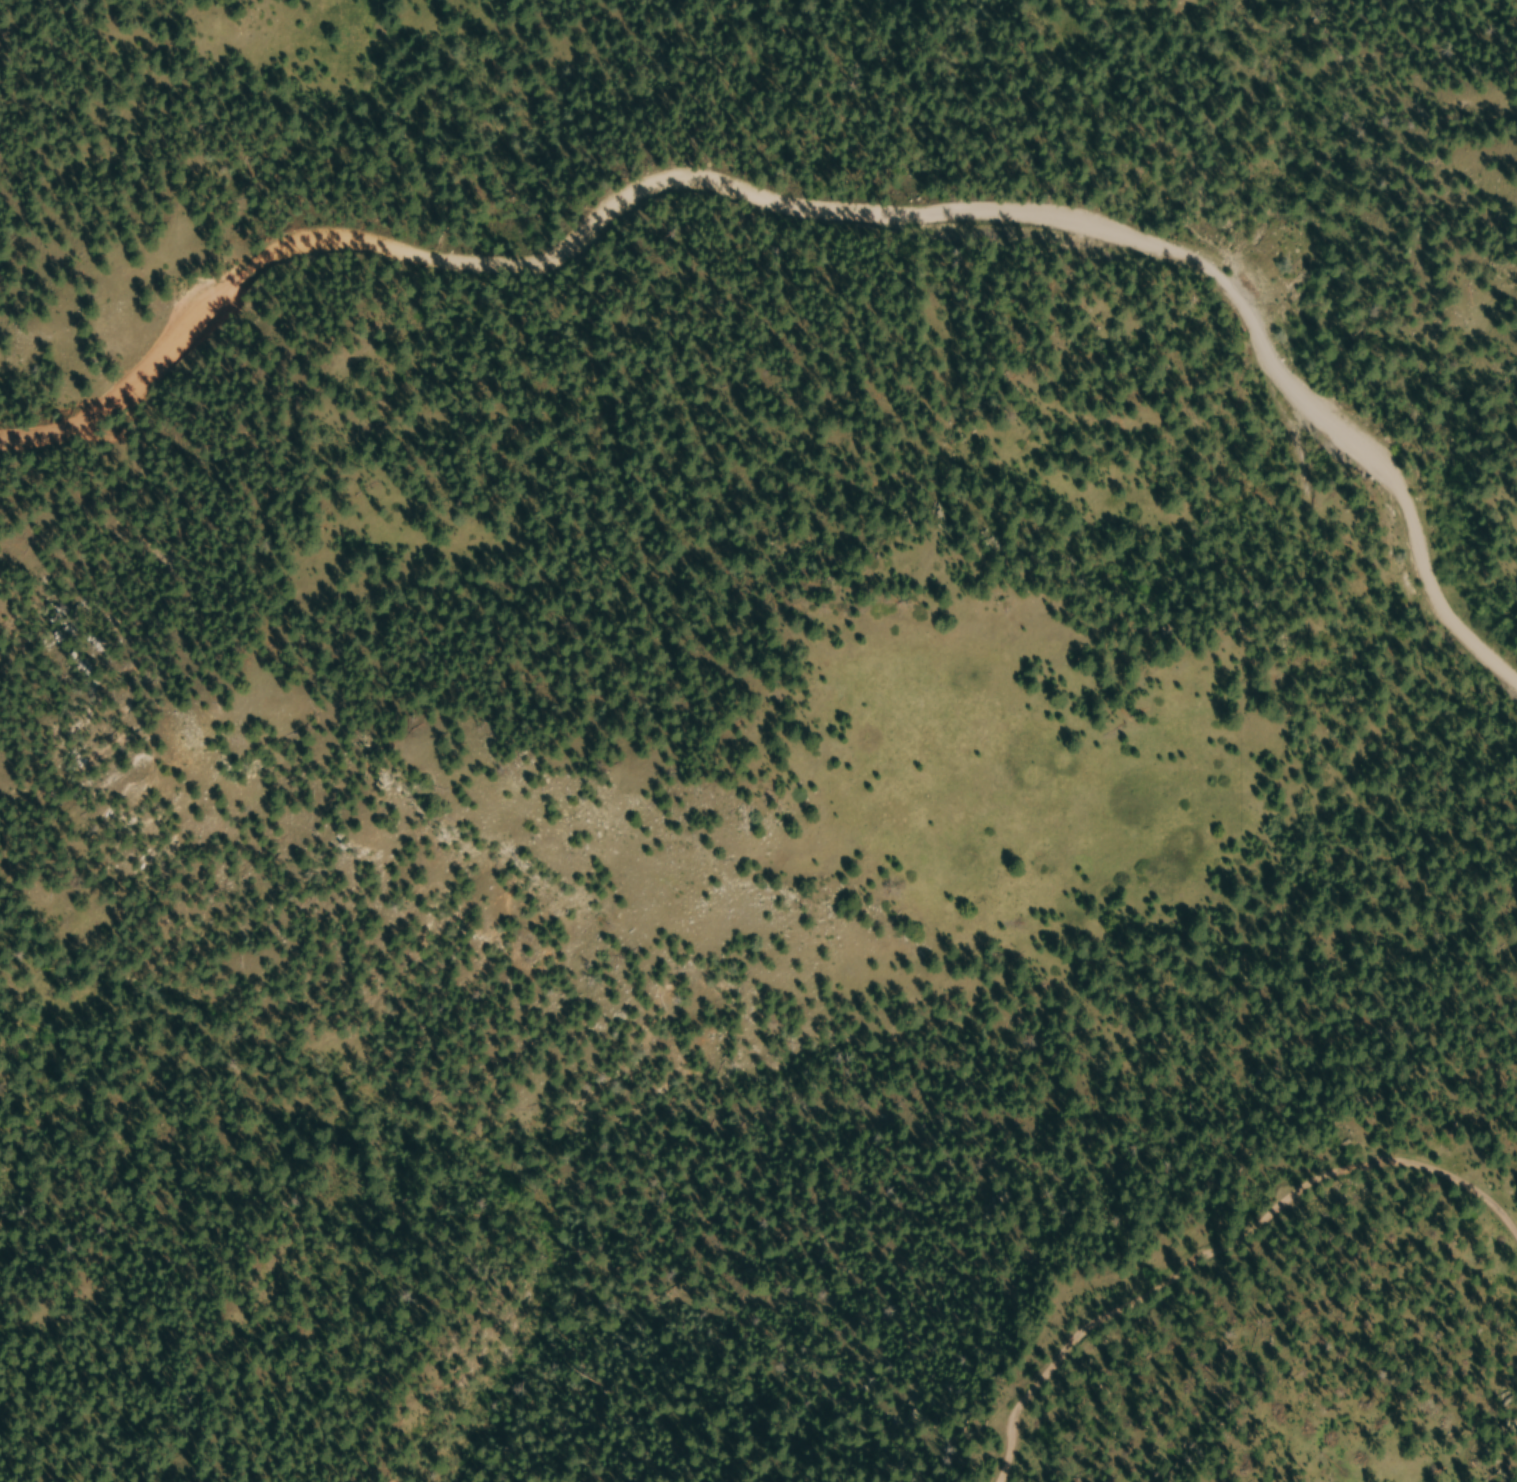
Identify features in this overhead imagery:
road: (817, 190)

